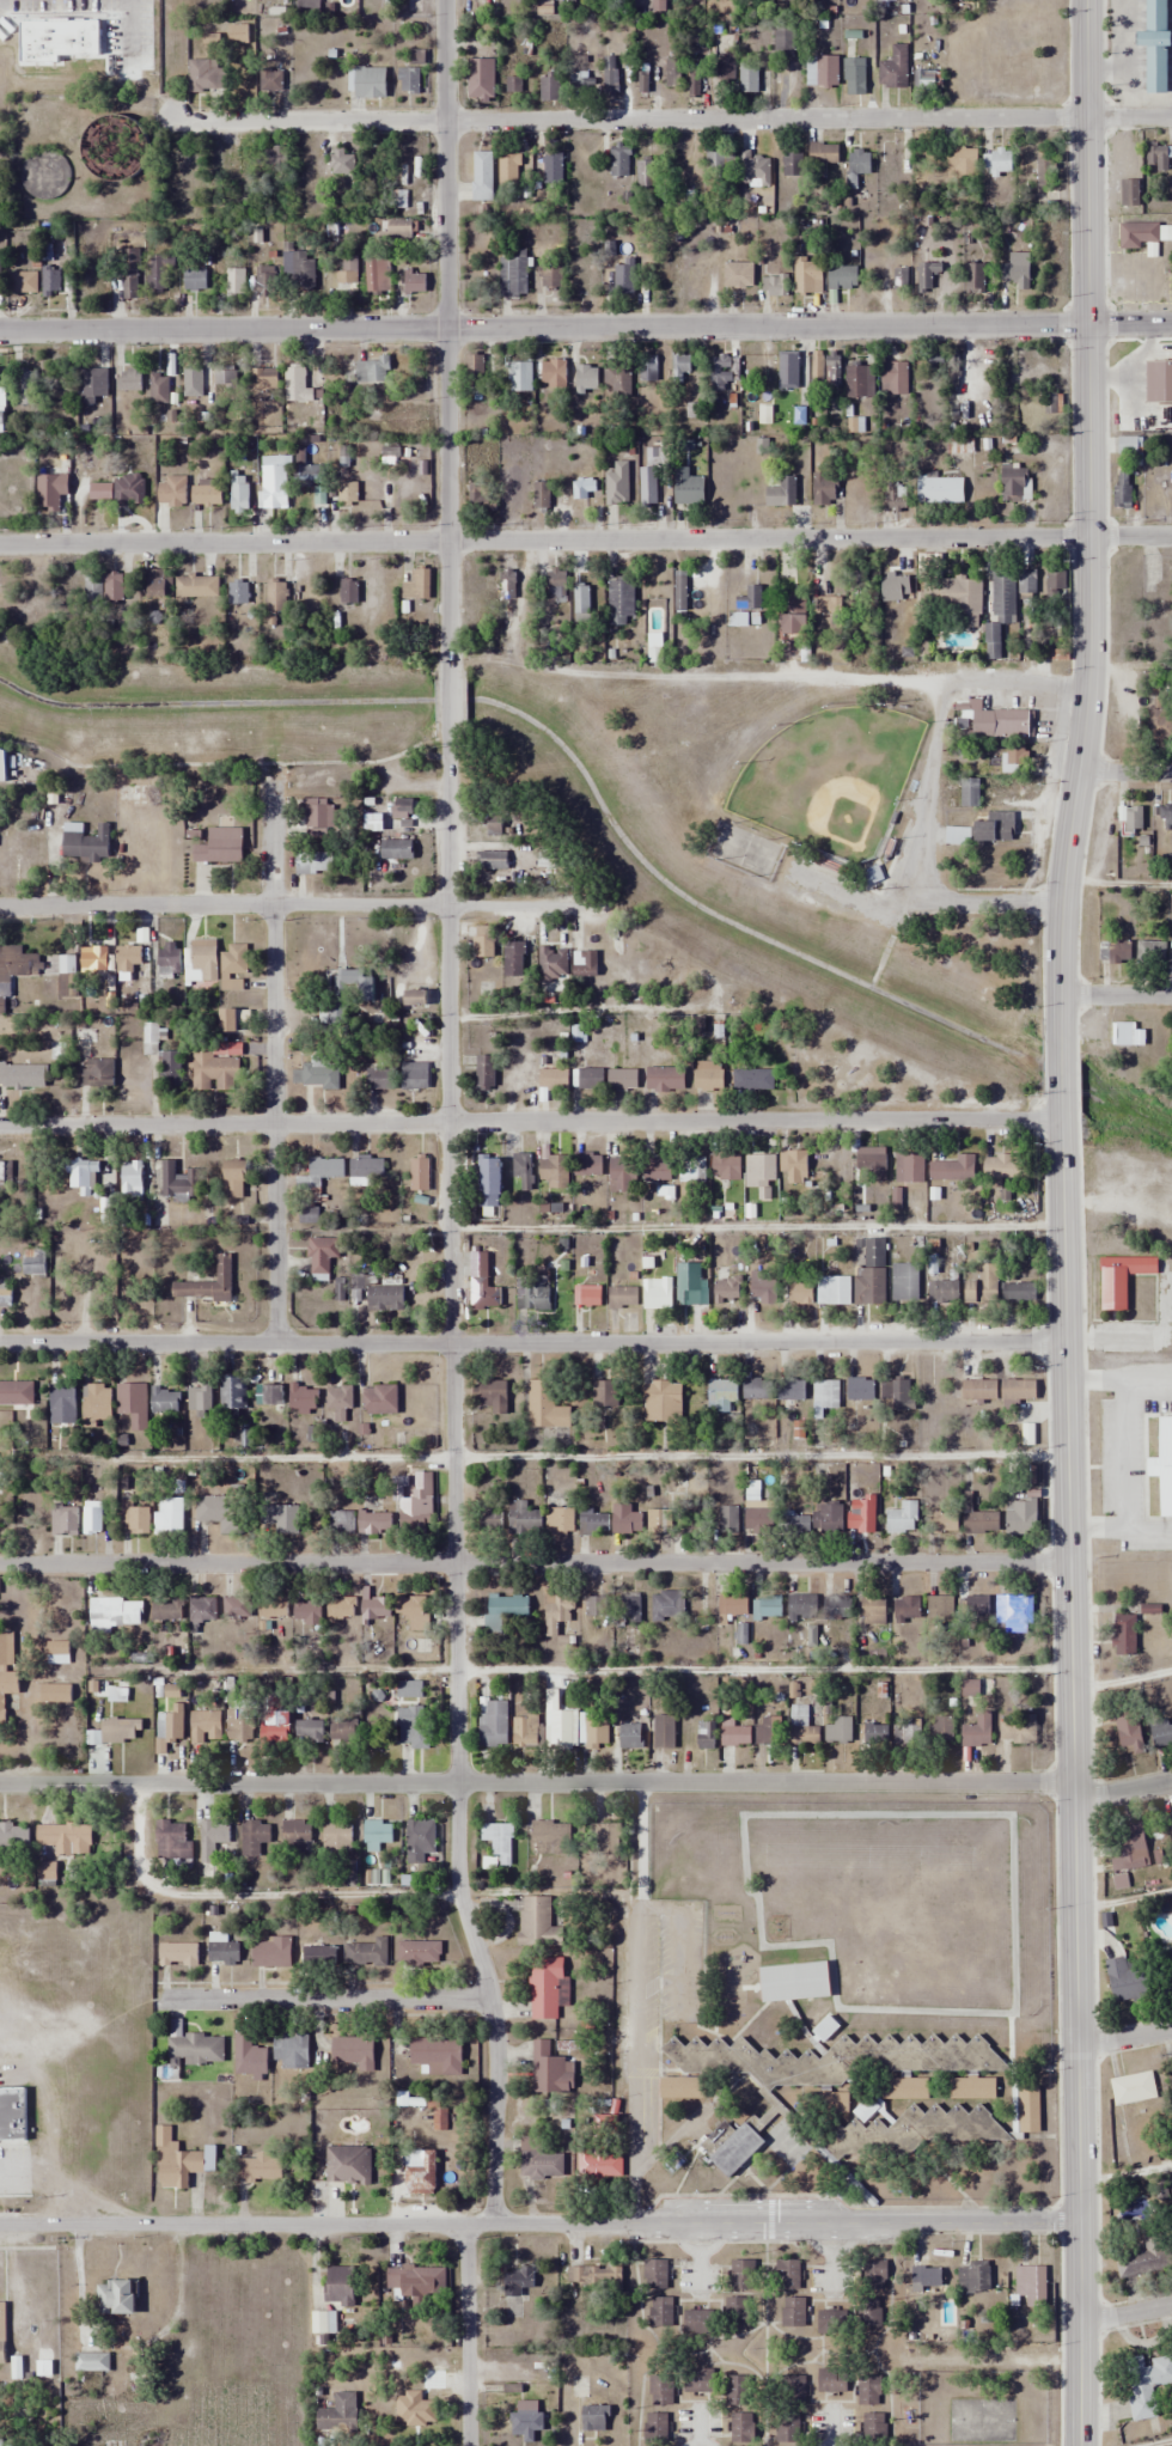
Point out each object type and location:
building: (59, 18)
building: (26, 32)
building: (783, 41)
building: (1155, 45)
building: (893, 68)
building: (726, 71)
building: (820, 71)
building: (694, 73)
building: (671, 74)
building: (610, 75)
building: (854, 75)
building: (207, 77)
building: (408, 79)
building: (749, 79)
building: (923, 80)
building: (270, 81)
building: (370, 83)
building: (581, 84)
building: (514, 85)
building: (643, 85)
building: (475, 86)
building: (549, 87)
road: (669, 117)
building: (824, 153)
building: (890, 155)
building: (275, 157)
building: (1158, 159)
building: (618, 160)
building: (719, 160)
building: (341, 163)
building: (859, 163)
building: (962, 163)
building: (1000, 163)
building: (792, 164)
building: (507, 169)
building: (553, 170)
building: (646, 175)
building: (481, 176)
building: (1129, 196)
building: (398, 226)
building: (1146, 234)
building: (348, 266)
building: (298, 269)
building: (1019, 272)
building: (512, 273)
building: (158, 274)
building: (738, 274)
building: (129, 275)
building: (376, 276)
building: (807, 276)
building: (842, 276)
building: (926, 276)
building: (623, 277)
building: (975, 279)
building: (194, 280)
building: (695, 280)
building: (899, 280)
building: (50, 281)
building: (234, 281)
building: (265, 281)
building: (20, 282)
building: (415, 282)
building: (774, 286)
road: (585, 328)
road: (442, 333)
building: (935, 359)
building: (679, 364)
building: (648, 368)
building: (372, 370)
building: (474, 370)
building: (831, 370)
building: (787, 371)
building: (720, 373)
building: (553, 374)
building: (225, 377)
building: (519, 377)
building: (895, 378)
building: (586, 379)
building: (129, 380)
building: (264, 380)
building: (617, 380)
building: (191, 382)
building: (857, 382)
building: (297, 383)
building: (92, 385)
building: (25, 388)
building: (158, 389)
building: (1050, 403)
building: (1, 423)
building: (1128, 445)
building: (307, 475)
building: (273, 481)
building: (1012, 482)
building: (616, 484)
building: (517, 487)
building: (648, 487)
building: (582, 488)
building: (1122, 489)
building: (122, 490)
building: (689, 490)
building: (823, 490)
building: (939, 490)
building: (171, 492)
building: (50, 493)
building: (542, 493)
building: (787, 493)
building: (346, 494)
building: (206, 495)
building: (239, 496)
building: (481, 498)
building: (895, 501)
road: (1088, 520)
road: (586, 542)
building: (1026, 582)
building: (159, 584)
building: (1056, 584)
building: (507, 585)
building: (416, 586)
building: (104, 587)
building: (197, 587)
building: (896, 588)
building: (558, 591)
building: (679, 591)
building: (348, 592)
building: (237, 593)
building: (276, 597)
building: (952, 597)
building: (581, 599)
building: (750, 599)
building: (1162, 600)
building: (621, 602)
building: (829, 605)
building: (1000, 610)
building: (794, 616)
road: (445, 699)
building: (1000, 725)
building: (1159, 727)
building: (1013, 762)
building: (2, 763)
road: (1125, 771)
park: (828, 780)
park: (769, 787)
building: (969, 791)
building: (317, 815)
building: (1165, 817)
building: (1133, 821)
building: (494, 824)
building: (995, 828)
building: (85, 841)
building: (218, 850)
building: (396, 850)
building: (490, 860)
building: (313, 862)
road: (294, 905)
building: (484, 943)
building: (1115, 952)
building: (1152, 952)
building: (93, 957)
building: (513, 957)
building: (202, 959)
building: (234, 962)
building: (17, 963)
building: (167, 963)
building: (551, 963)
building: (587, 964)
building: (128, 969)
building: (65, 986)
building: (415, 996)
road: (1115, 996)
building: (227, 1019)
building: (575, 1032)
building: (1127, 1036)
road: (273, 1068)
building: (171, 1069)
building: (214, 1069)
road: (1058, 1069)
building: (484, 1070)
building: (96, 1073)
building: (315, 1073)
building: (22, 1075)
building: (414, 1075)
building: (708, 1075)
building: (380, 1078)
building: (588, 1078)
building: (551, 1079)
building: (622, 1079)
building: (665, 1079)
building: (752, 1079)
road: (530, 1122)
building: (587, 1164)
building: (725, 1164)
building: (871, 1164)
building: (691, 1167)
building: (795, 1167)
building: (909, 1167)
building: (523, 1169)
building: (655, 1169)
building: (952, 1169)
building: (1006, 1169)
building: (366, 1170)
building: (759, 1170)
building: (554, 1171)
building: (419, 1173)
building: (622, 1173)
building: (4, 1176)
building: (83, 1176)
building: (234, 1179)
building: (312, 1179)
building: (178, 1182)
building: (490, 1182)
building: (132, 1185)
building: (307, 1215)
building: (322, 1256)
building: (33, 1259)
building: (871, 1274)
building: (1122, 1279)
building: (904, 1281)
building: (688, 1282)
building: (209, 1283)
building: (983, 1285)
building: (727, 1289)
building: (763, 1289)
building: (832, 1289)
building: (944, 1291)
building: (799, 1292)
building: (1019, 1293)
building: (5, 1294)
building: (483, 1294)
building: (532, 1294)
building: (655, 1294)
building: (587, 1295)
building: (624, 1295)
building: (385, 1298)
road: (531, 1342)
road: (1118, 1384)
building: (756, 1387)
building: (791, 1389)
building: (860, 1390)
building: (979, 1390)
building: (1018, 1390)
building: (17, 1392)
building: (231, 1392)
building: (826, 1393)
building: (895, 1393)
building: (269, 1395)
building: (490, 1395)
building: (604, 1395)
building: (721, 1395)
building: (338, 1397)
building: (199, 1398)
building: (97, 1399)
building: (165, 1399)
building: (303, 1399)
building: (379, 1399)
building: (661, 1402)
building: (62, 1403)
building: (548, 1403)
building: (132, 1404)
building: (1027, 1435)
road: (1121, 1456)
building: (1162, 1465)
road: (451, 1480)
building: (417, 1506)
building: (220, 1513)
building: (169, 1515)
building: (758, 1517)
building: (826, 1517)
building: (861, 1517)
building: (1021, 1517)
building: (133, 1518)
building: (524, 1518)
building: (727, 1518)
building: (902, 1518)
building: (92, 1519)
building: (282, 1519)
building: (63, 1520)
building: (560, 1520)
building: (625, 1520)
building: (657, 1520)
building: (685, 1520)
building: (488, 1521)
building: (794, 1521)
building: (945, 1521)
building: (340, 1523)
building: (374, 1523)
building: (593, 1523)
building: (979, 1523)
road: (1119, 1527)
road: (535, 1562)
building: (732, 1604)
building: (666, 1605)
building: (271, 1606)
building: (594, 1606)
building: (769, 1606)
building: (801, 1606)
building: (836, 1606)
building: (237, 1608)
building: (341, 1608)
building: (630, 1608)
building: (976, 1608)
building: (202, 1609)
building: (376, 1609)
building: (940, 1609)
building: (166, 1610)
building: (557, 1610)
building: (873, 1610)
building: (908, 1610)
building: (307, 1611)
building: (502, 1611)
building: (115, 1612)
building: (414, 1612)
building: (1014, 1612)
building: (1124, 1635)
building: (6, 1649)
building: (57, 1653)
building: (409, 1689)
building: (7, 1690)
building: (55, 1694)
building: (170, 1724)
building: (494, 1725)
building: (205, 1727)
building: (238, 1727)
building: (414, 1727)
building: (596, 1727)
building: (801, 1727)
building: (838, 1727)
building: (558, 1728)
building: (940, 1728)
building: (1012, 1728)
building: (274, 1730)
building: (343, 1730)
building: (524, 1730)
building: (120, 1731)
building: (309, 1731)
building: (768, 1731)
building: (978, 1731)
building: (664, 1732)
building: (1130, 1732)
building: (734, 1733)
building: (907, 1733)
building: (706, 1734)
building: (875, 1734)
building: (1161, 1734)
building: (630, 1736)
road: (1069, 1771)
road: (535, 1783)
road: (1121, 1791)
building: (1170, 1819)
building: (606, 1828)
building: (1170, 1831)
building: (377, 1832)
building: (254, 1836)
building: (336, 1836)
building: (13, 1837)
building: (214, 1837)
building: (295, 1837)
building: (551, 1837)
building: (66, 1838)
building: (172, 1840)
building: (420, 1841)
building: (496, 1843)
building: (1130, 1849)
building: (45, 1871)
building: (537, 1925)
building: (224, 1952)
building: (270, 1953)
building: (366, 1953)
building: (417, 1953)
building: (178, 1954)
building: (318, 1957)
building: (1165, 1966)
building: (1127, 1980)
building: (794, 1982)
building: (544, 1988)
road: (328, 2002)
road: (1123, 2038)
building: (195, 2049)
building: (291, 2051)
building: (353, 2052)
building: (435, 2055)
building: (249, 2057)
building: (548, 2072)
building: (1171, 2075)
building: (683, 2087)
building: (904, 2088)
building: (971, 2088)
building: (1134, 2088)
building: (825, 2104)
building: (1028, 2110)
building: (12, 2115)
building: (752, 2142)
building: (887, 2148)
building: (539, 2160)
building: (179, 2161)
building: (348, 2165)
building: (599, 2165)
building: (257, 2169)
building: (419, 2173)
road: (538, 2222)
building: (1144, 2258)
building: (654, 2274)
building: (741, 2274)
building: (787, 2274)
building: (874, 2274)
building: (926, 2276)
building: (597, 2277)
building: (972, 2277)
building: (416, 2280)
building: (1030, 2281)
building: (340, 2283)
building: (525, 2285)
building: (115, 2296)
building: (660, 2312)
building: (737, 2312)
building: (793, 2312)
building: (868, 2312)
road: (1124, 2316)
building: (698, 2322)
building: (831, 2323)
building: (1, 2331)
road: (465, 2334)
building: (91, 2362)
building: (697, 2380)
building: (832, 2380)
building: (1146, 2384)
building: (660, 2390)
building: (737, 2390)
building: (868, 2390)
building: (791, 2409)
building: (338, 2414)
building: (417, 2416)
building: (593, 2420)
building: (526, 2426)
building: (741, 2428)
building: (655, 2429)
building: (873, 2429)

